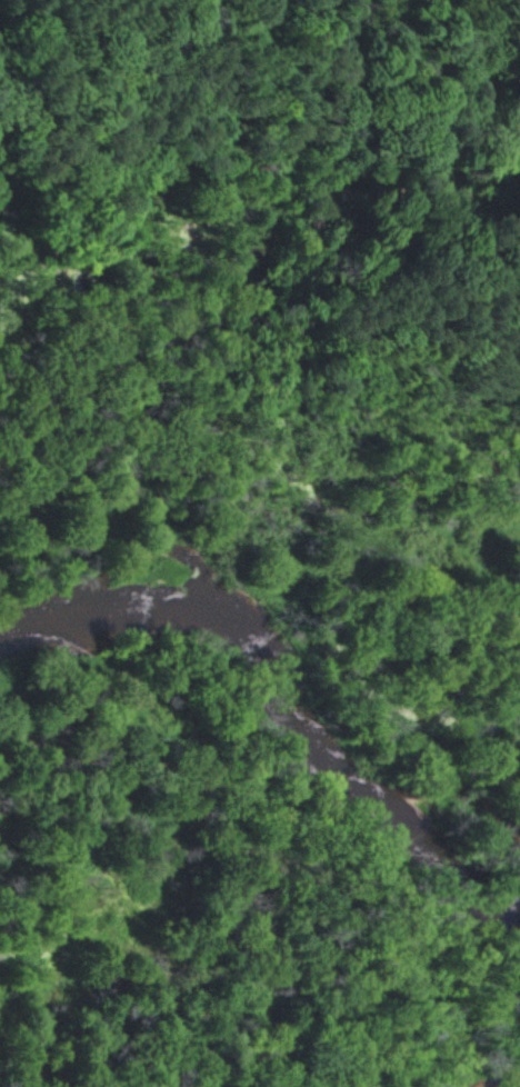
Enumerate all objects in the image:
river: (282, 698)

